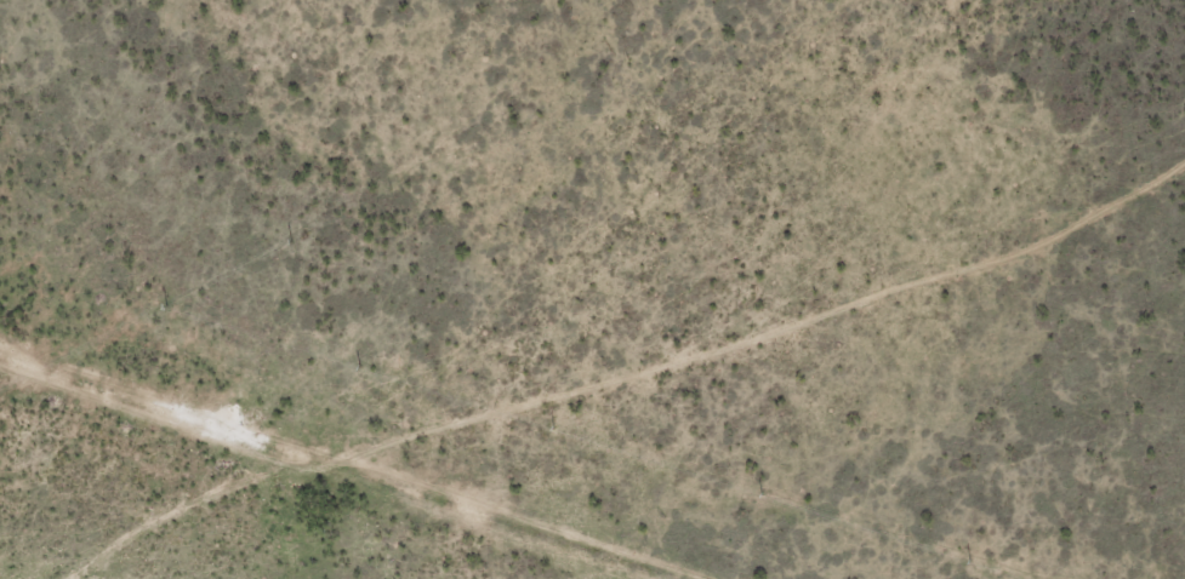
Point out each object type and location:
road: (653, 391)

